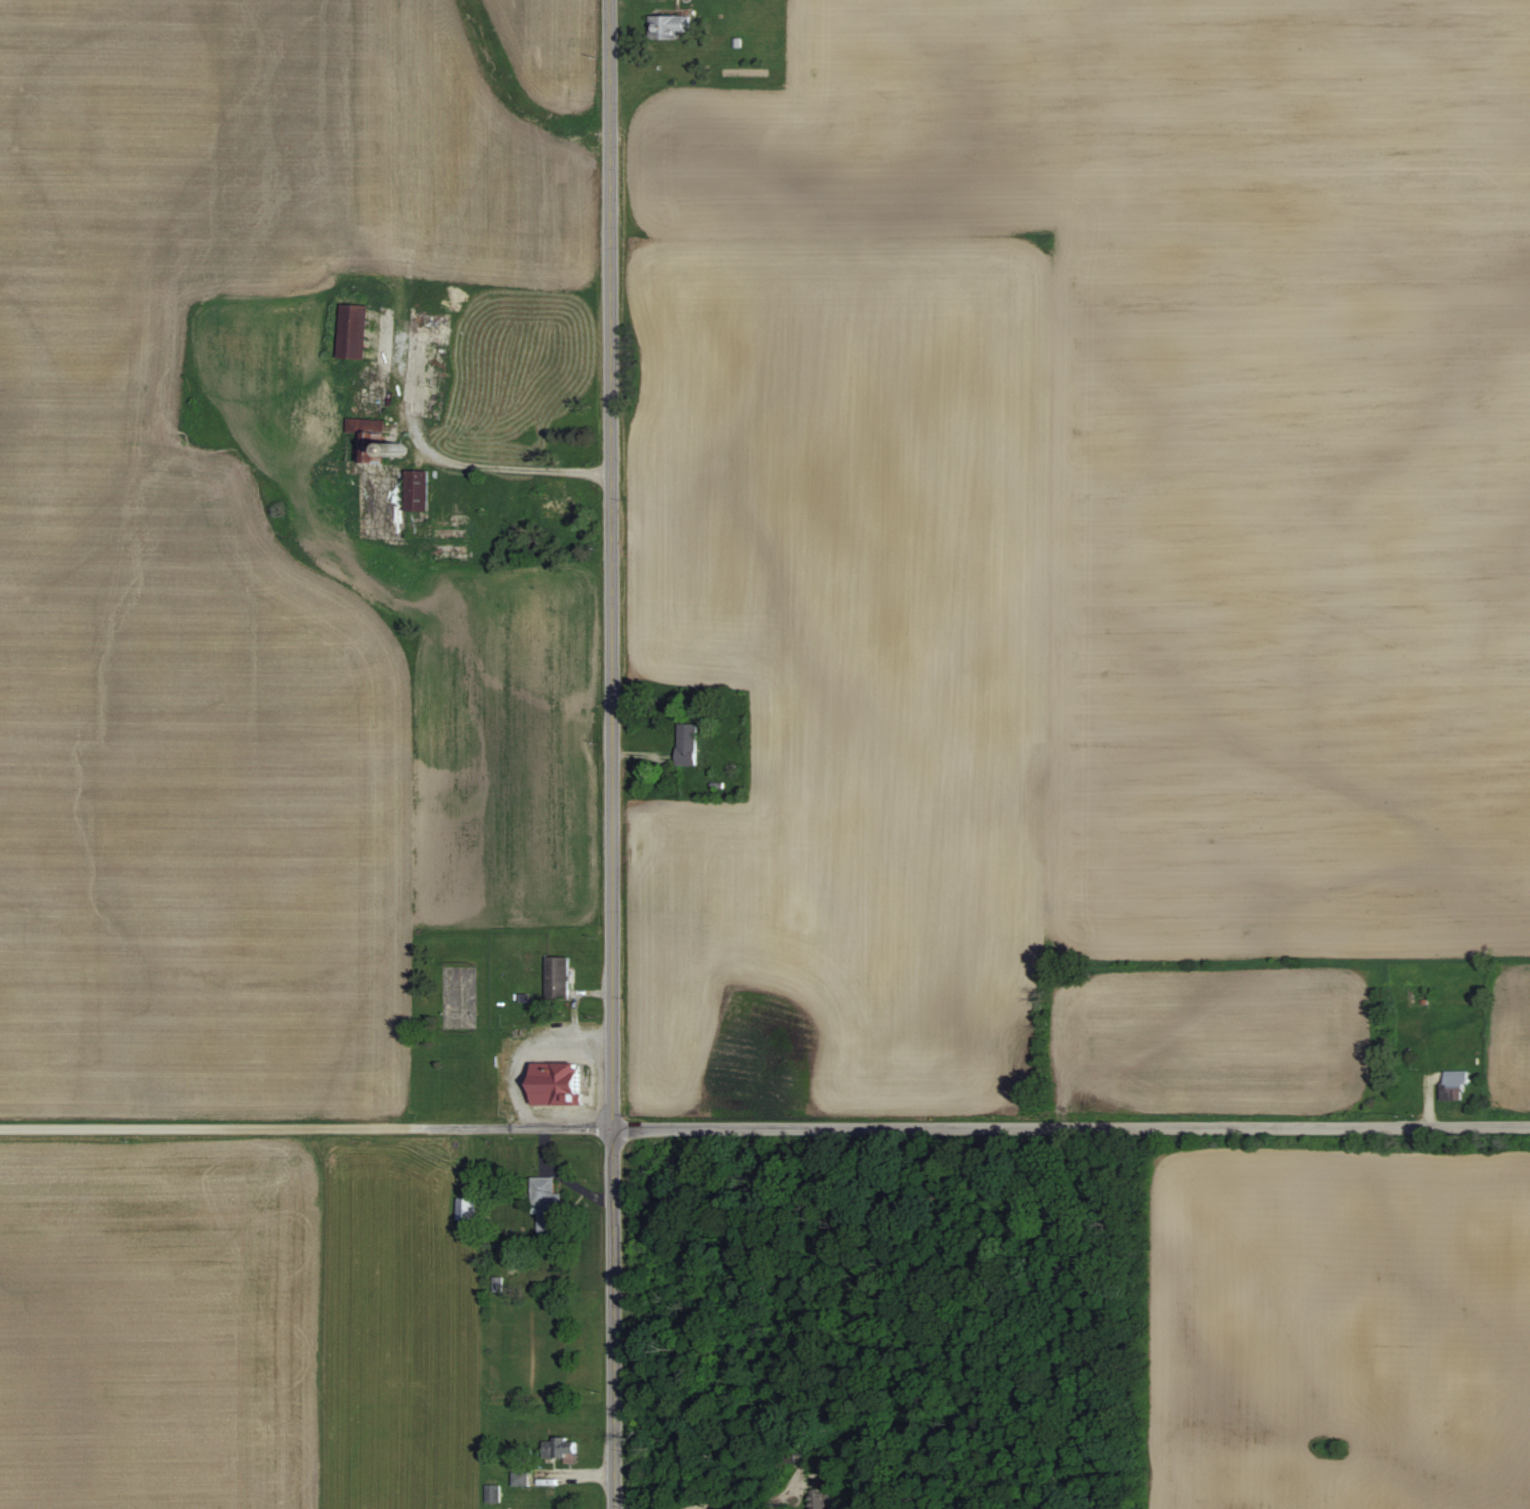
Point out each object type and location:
building: (673, 26)
building: (358, 330)
road: (507, 465)
building: (423, 489)
building: (555, 510)
road: (616, 564)
building: (692, 743)
building: (562, 979)
building: (1458, 1081)
building: (563, 1084)
road: (1072, 1126)
road: (307, 1127)
building: (550, 1204)
building: (468, 1207)
road: (617, 1319)
building: (561, 1446)
building: (523, 1477)
building: (495, 1492)

